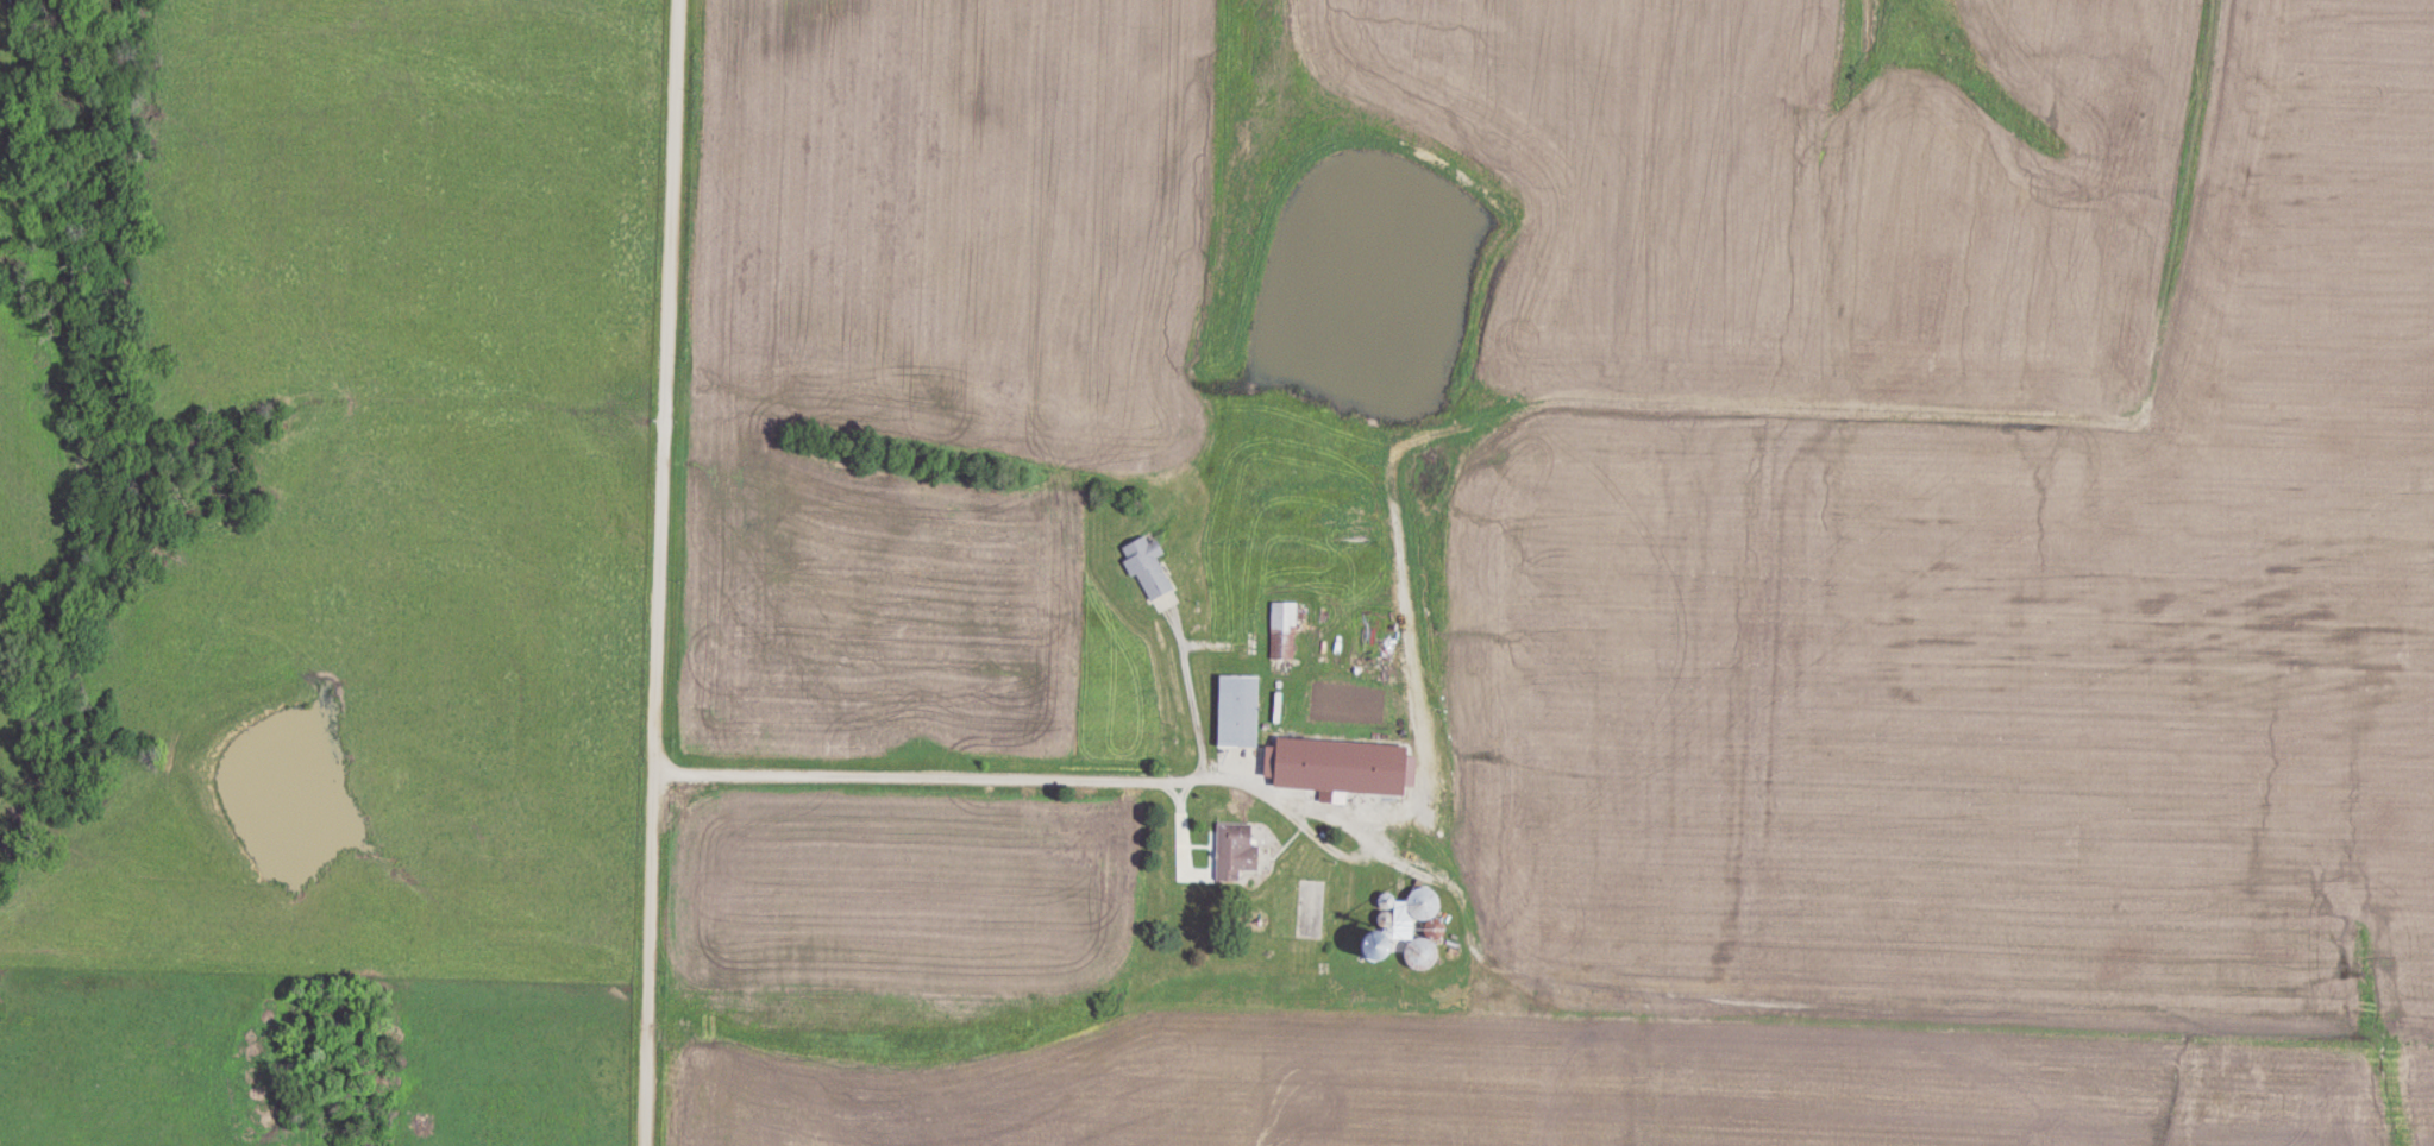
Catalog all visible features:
crop: (961, 213)
crop: (1949, 506)
building: (1146, 565)
road: (652, 572)
building: (1282, 629)
building: (1237, 710)
road: (893, 772)
building: (1340, 773)
building: (1234, 850)
building: (1424, 902)
crop: (1572, 1077)

